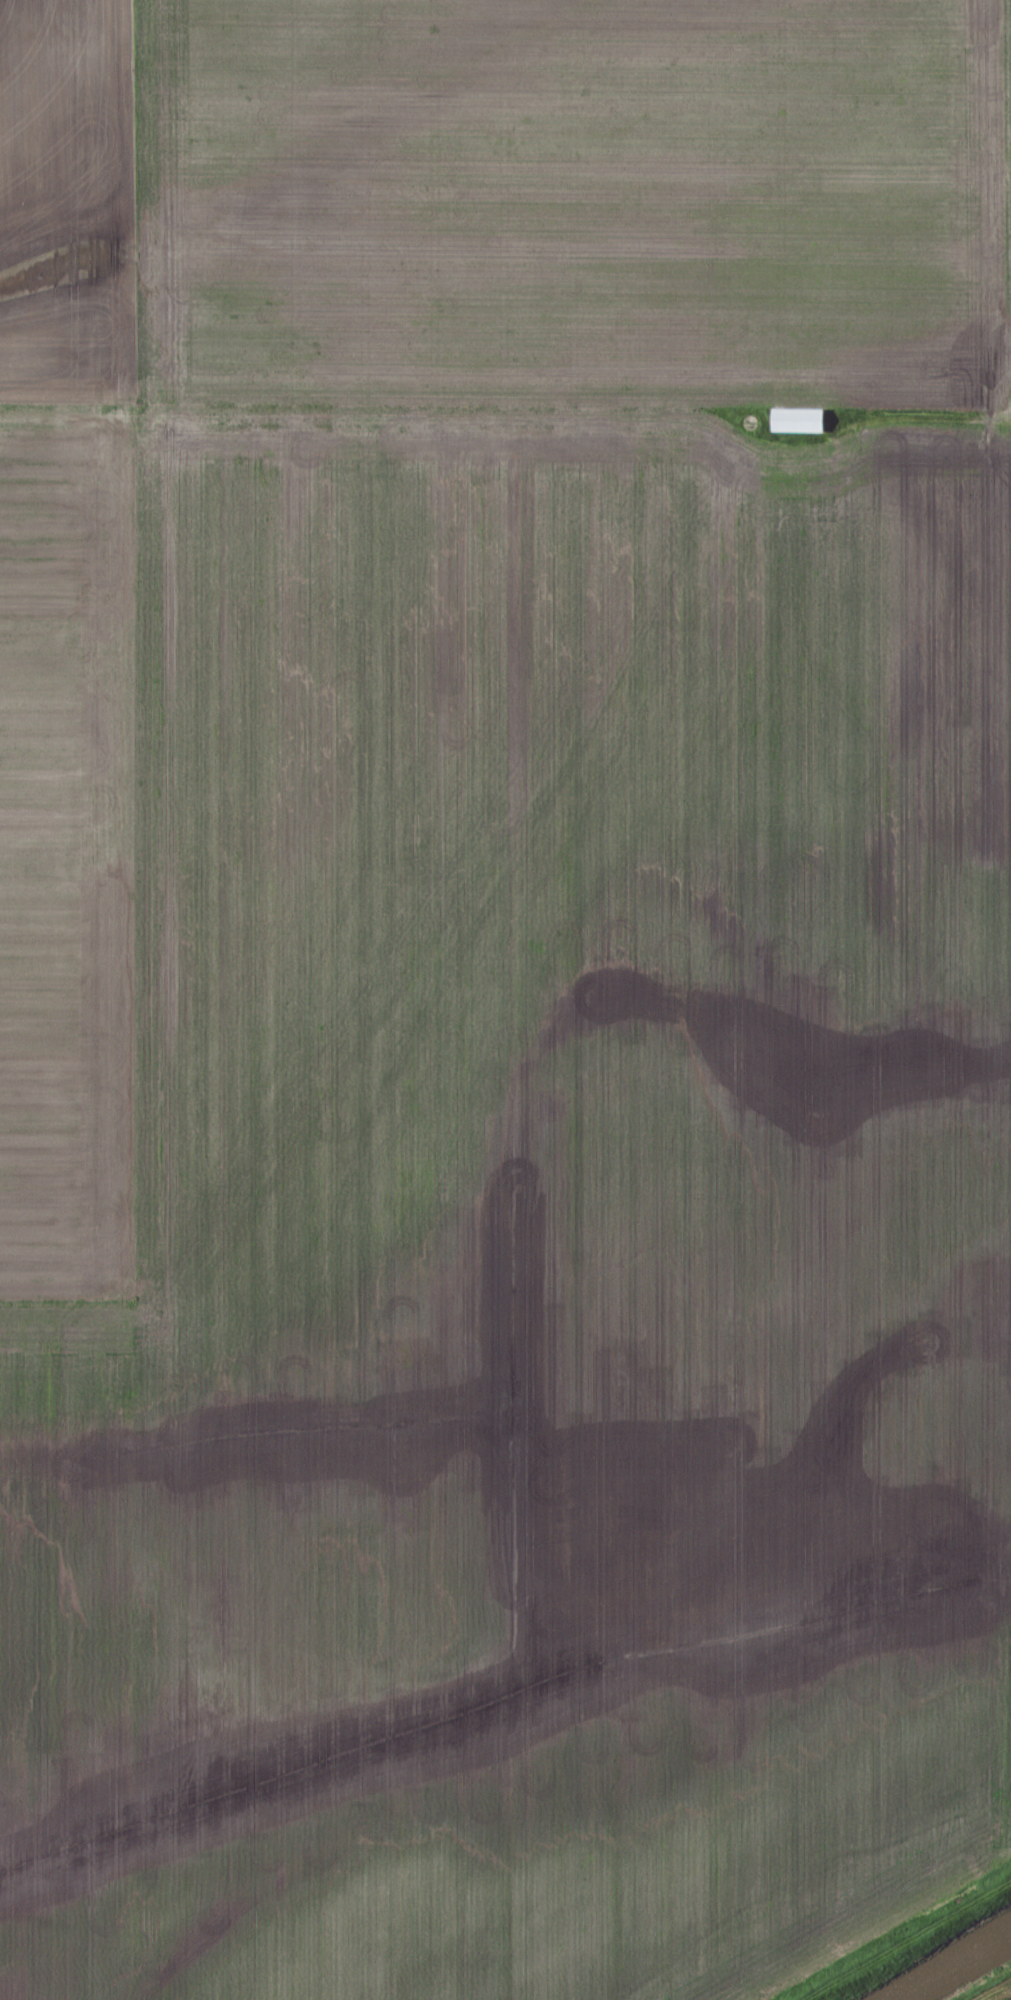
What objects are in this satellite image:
building: (806, 422)

